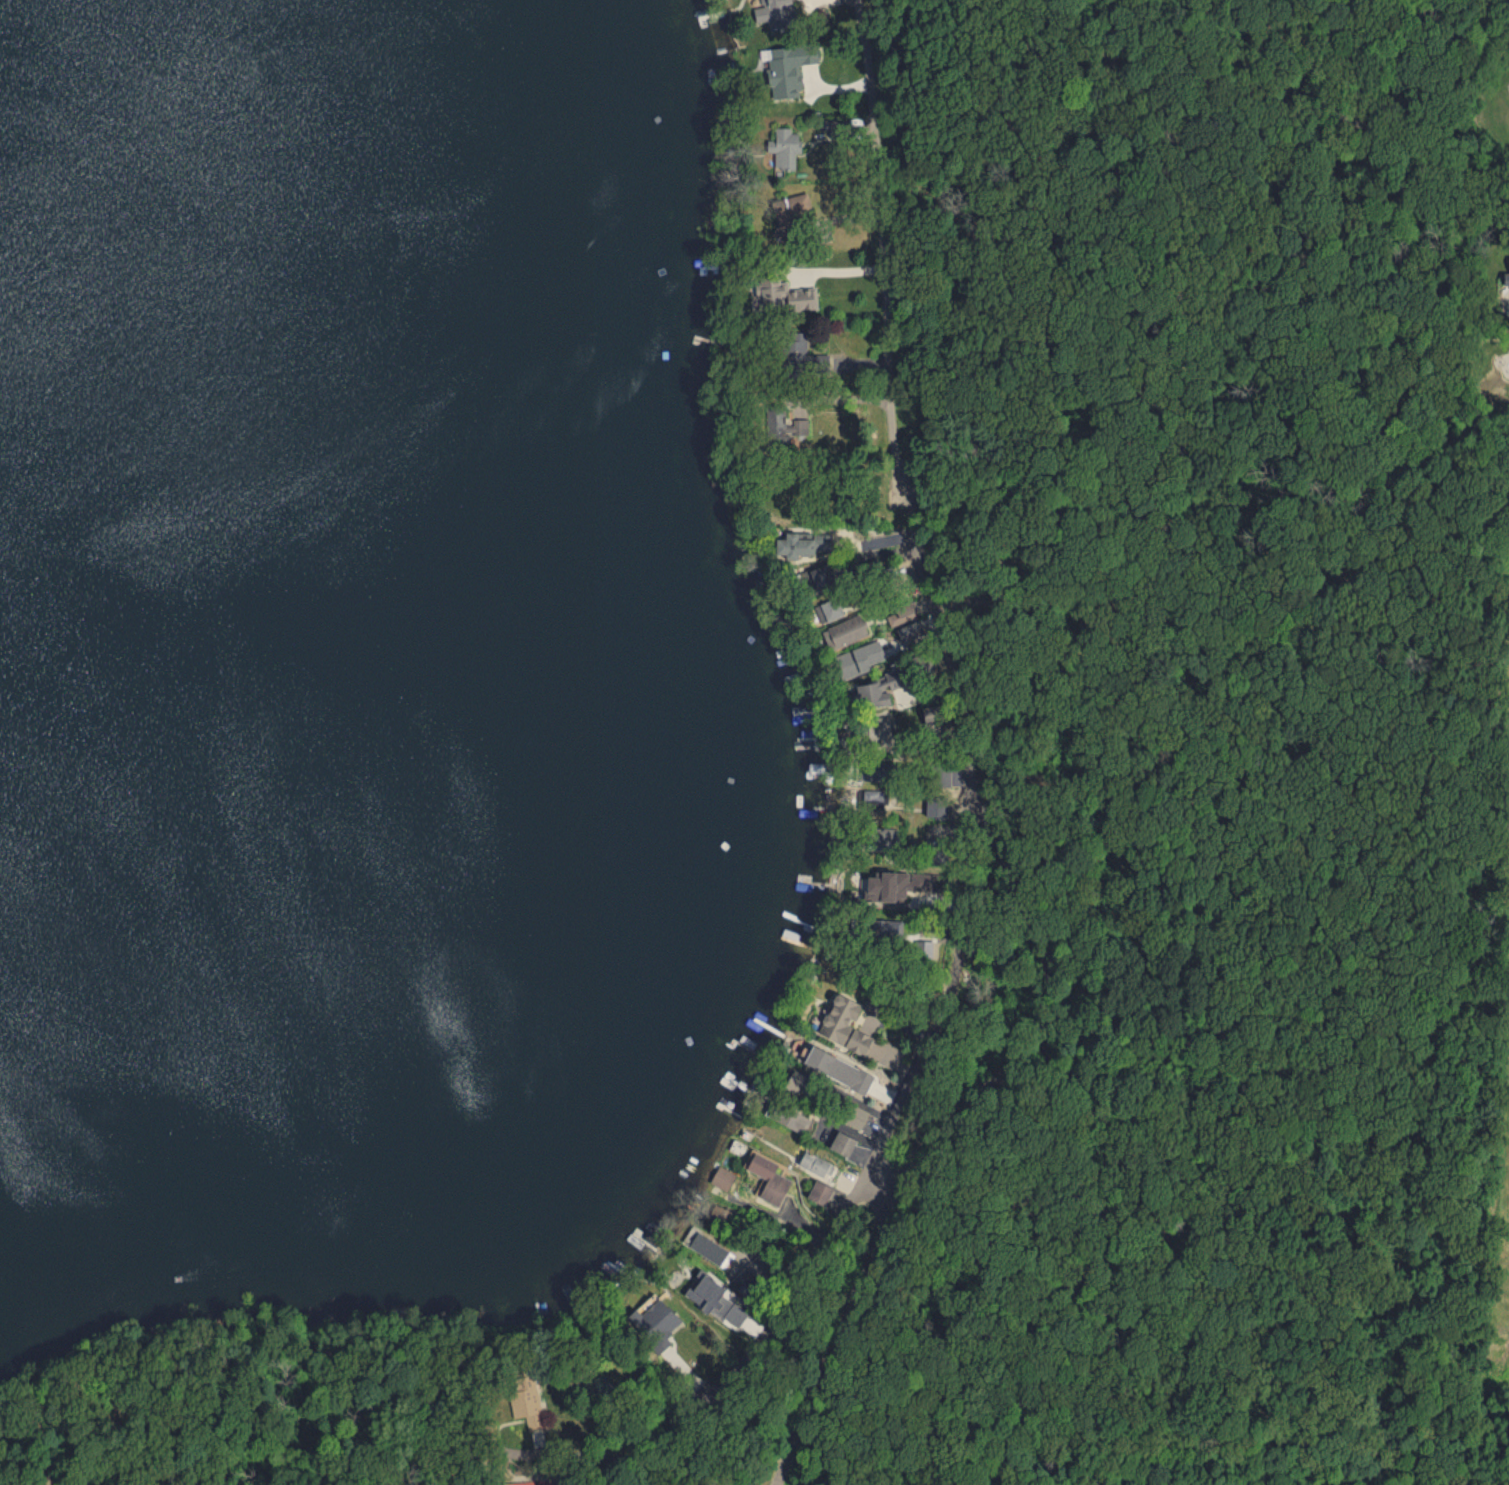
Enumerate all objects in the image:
building: (775, 12)
building: (788, 67)
building: (784, 147)
building: (790, 212)
road: (885, 239)
building: (1506, 277)
building: (787, 294)
building: (803, 356)
building: (782, 423)
building: (802, 543)
building: (817, 574)
building: (828, 609)
building: (916, 627)
building: (846, 631)
building: (858, 658)
building: (875, 689)
building: (879, 726)
building: (884, 799)
building: (939, 840)
building: (900, 883)
building: (885, 930)
building: (846, 1025)
road: (923, 1036)
building: (838, 1068)
building: (797, 1081)
road: (896, 1115)
building: (856, 1117)
building: (798, 1121)
road: (932, 1140)
building: (849, 1146)
building: (813, 1162)
building: (722, 1177)
building: (768, 1178)
building: (820, 1191)
building: (707, 1247)
building: (717, 1298)
building: (654, 1319)
building: (528, 1405)
road: (625, 1457)

